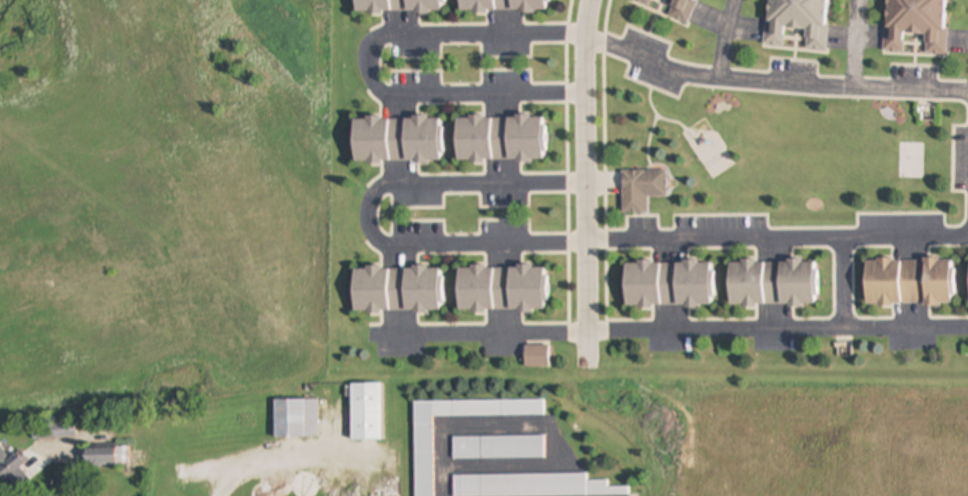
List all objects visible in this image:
building: (642, 2)
building: (399, 6)
building: (503, 6)
building: (683, 10)
building: (797, 21)
building: (917, 24)
road: (728, 40)
road: (857, 44)
road: (367, 70)
road: (773, 83)
building: (500, 138)
building: (397, 140)
road: (587, 177)
building: (641, 189)
road: (366, 218)
road: (903, 241)
road: (713, 242)
building: (909, 281)
building: (773, 282)
building: (669, 284)
road: (839, 287)
building: (501, 289)
building: (397, 290)
road: (677, 333)
building: (536, 356)
building: (366, 412)
building: (298, 419)
building: (54, 431)
building: (498, 447)
building: (423, 456)
building: (107, 457)
road: (288, 459)
building: (13, 468)
road: (66, 470)
building: (532, 486)

